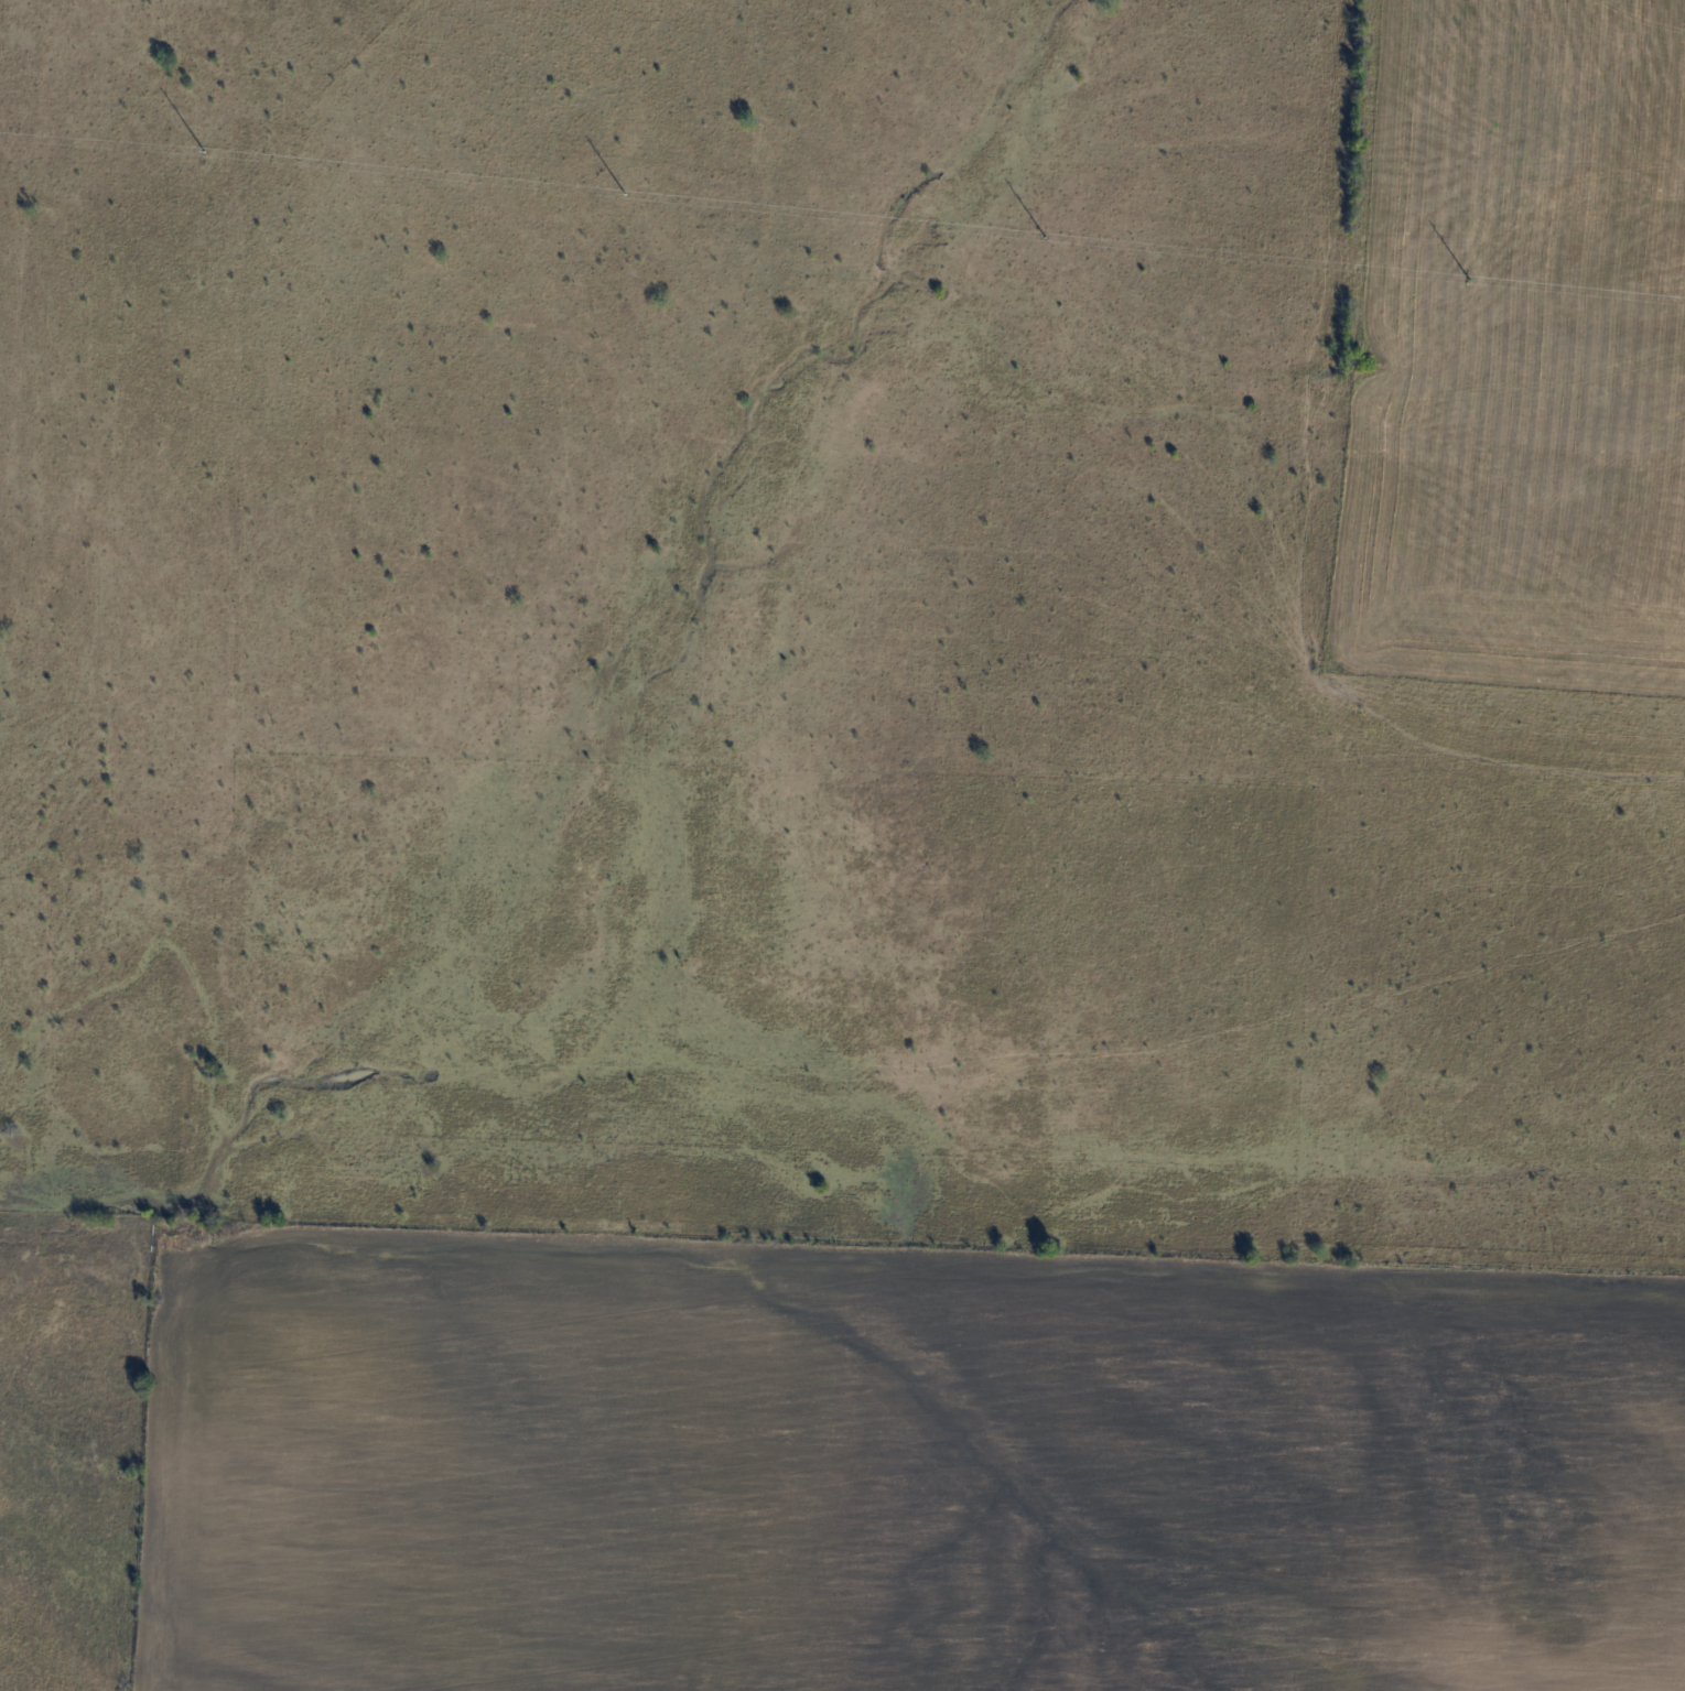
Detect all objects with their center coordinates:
power tower: (202, 150)
power tower: (625, 193)
power tower: (1044, 236)
power tower: (1469, 279)

